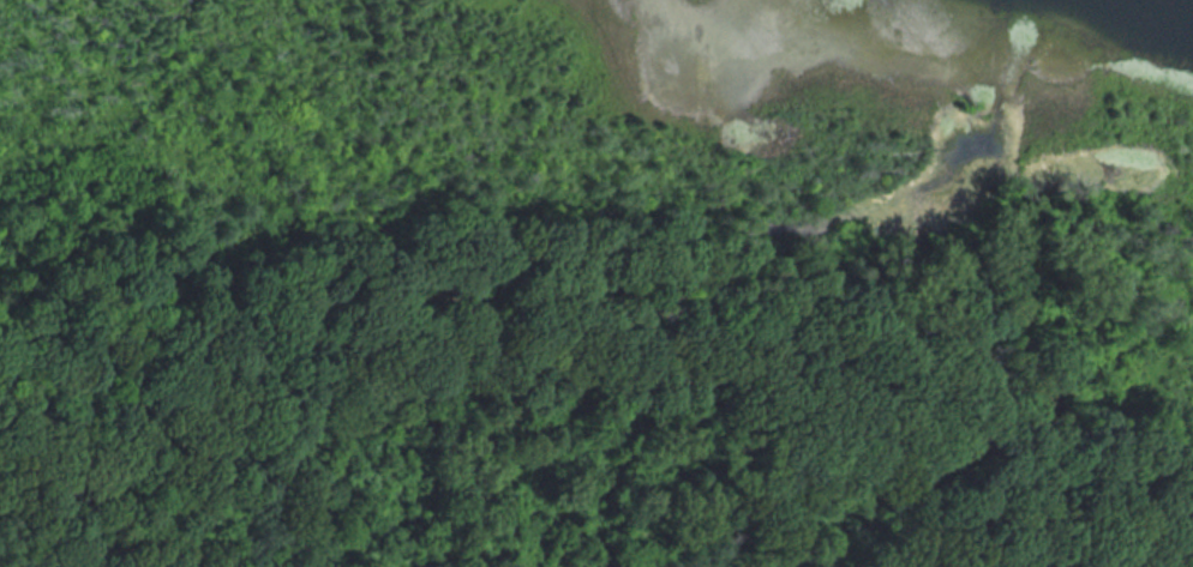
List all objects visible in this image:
park: (596, 283)

